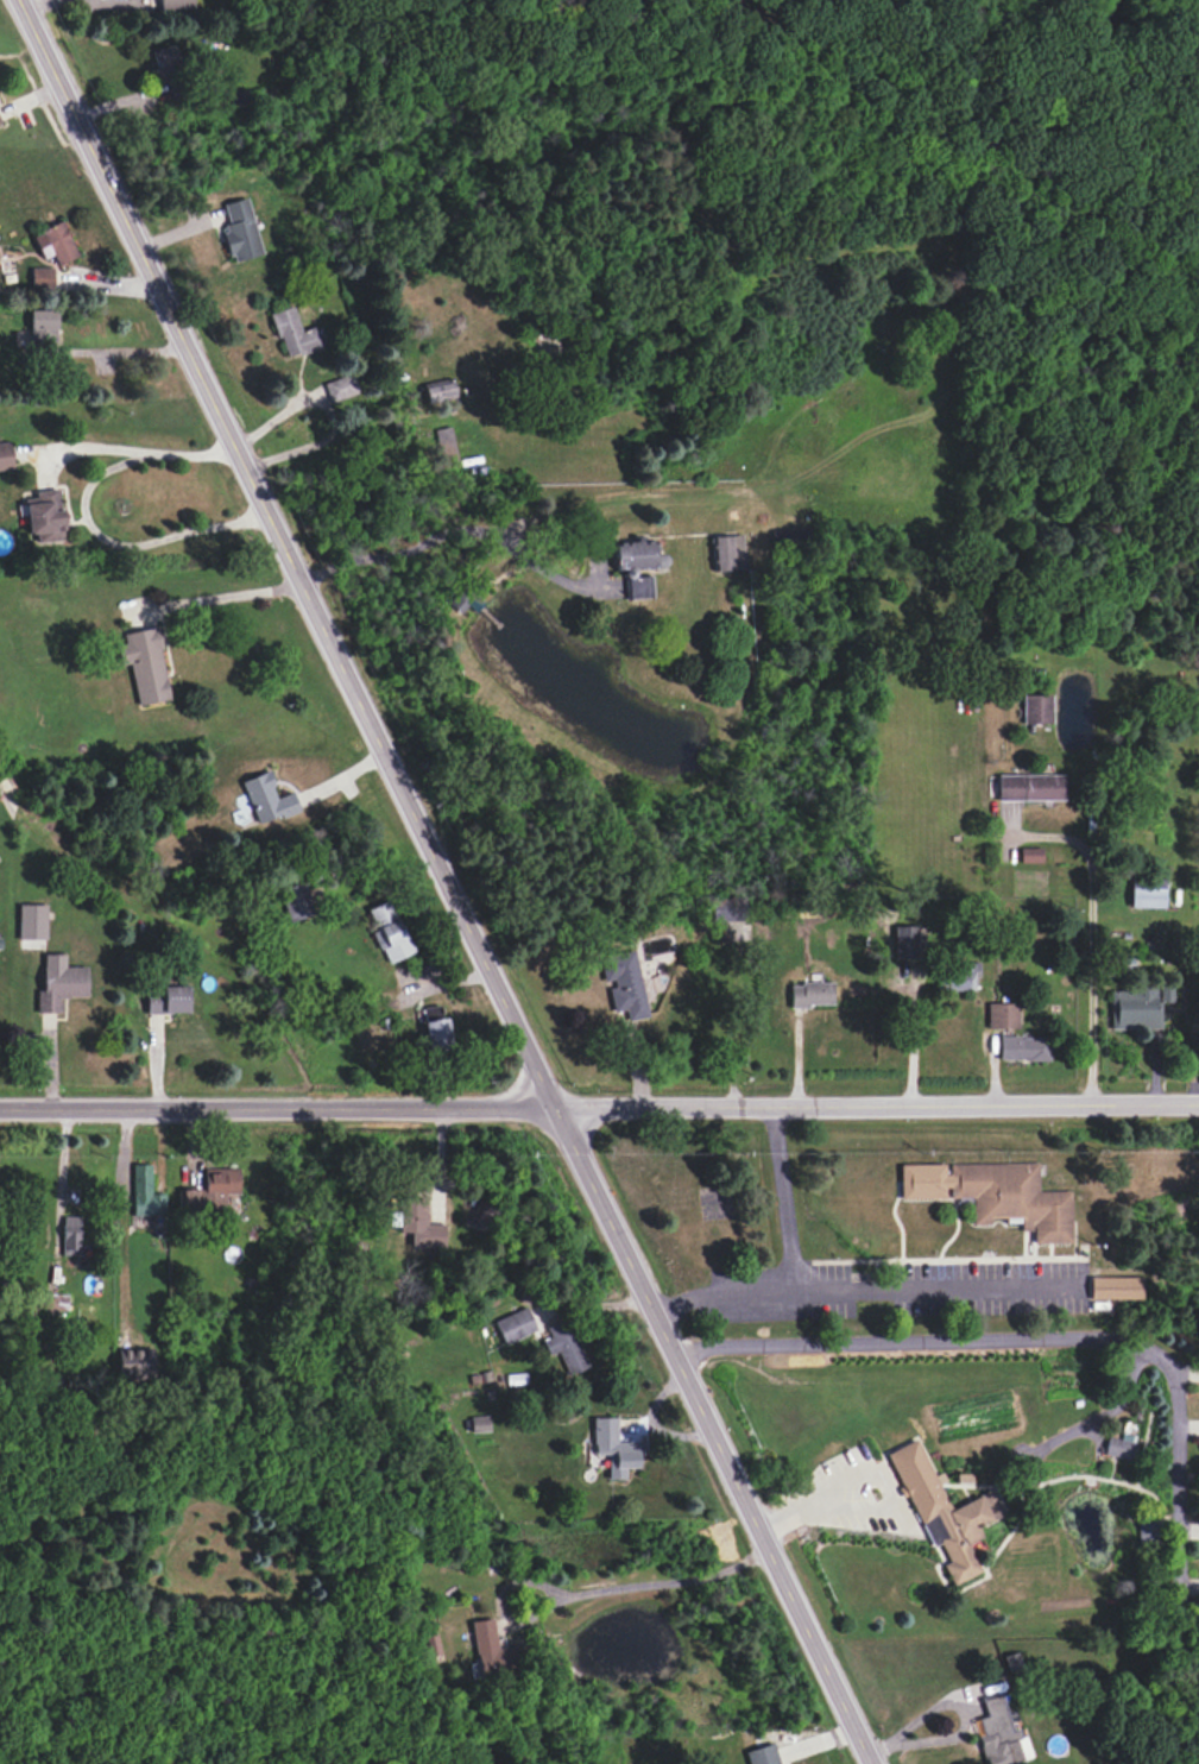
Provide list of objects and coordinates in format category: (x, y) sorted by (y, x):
building: (139, 4)
building: (176, 4)
building: (166, 62)
building: (240, 231)
building: (55, 242)
building: (42, 277)
building: (37, 328)
building: (294, 333)
road: (122, 354)
building: (341, 388)
building: (440, 390)
road: (332, 414)
building: (5, 455)
road: (145, 460)
building: (45, 516)
road: (455, 534)
building: (727, 553)
building: (635, 554)
road: (124, 556)
building: (637, 585)
road: (225, 607)
building: (145, 664)
building: (1036, 708)
building: (1030, 787)
building: (267, 799)
building: (1030, 855)
road: (444, 883)
building: (1147, 892)
building: (296, 901)
building: (726, 909)
building: (31, 921)
building: (389, 932)
road: (1091, 932)
building: (905, 941)
building: (963, 977)
building: (59, 983)
building: (624, 983)
building: (810, 994)
building: (166, 1000)
building: (1137, 1007)
building: (1003, 1015)
building: (435, 1028)
building: (1023, 1048)
road: (599, 1103)
building: (220, 1185)
building: (145, 1192)
building: (993, 1193)
road: (781, 1198)
building: (190, 1199)
building: (418, 1223)
building: (70, 1235)
building: (1115, 1287)
road: (863, 1291)
building: (515, 1325)
road: (1047, 1342)
building: (564, 1347)
building: (134, 1361)
building: (480, 1423)
building: (1119, 1445)
building: (614, 1447)
road: (877, 1468)
building: (942, 1510)
building: (1146, 1531)
road: (639, 1585)
building: (431, 1649)
building: (491, 1649)
building: (1011, 1661)
building: (999, 1734)

